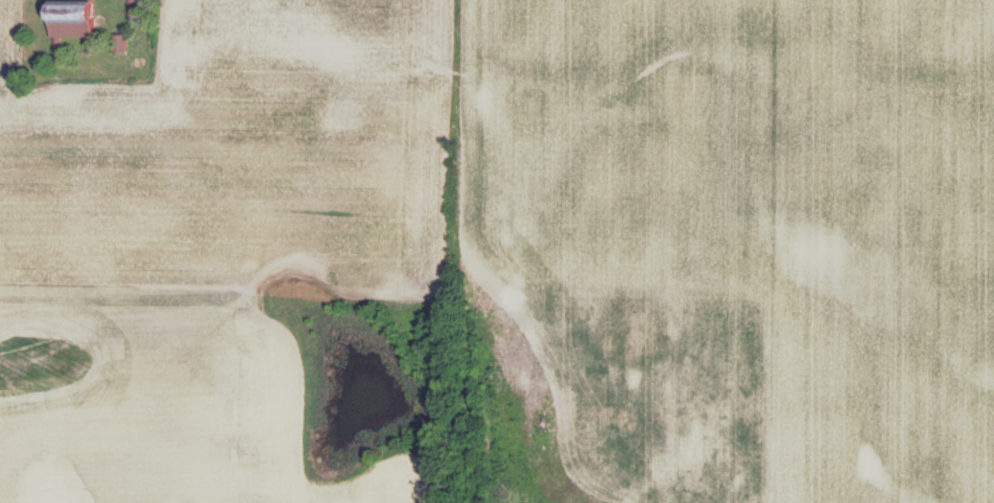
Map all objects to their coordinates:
building: (63, 28)

